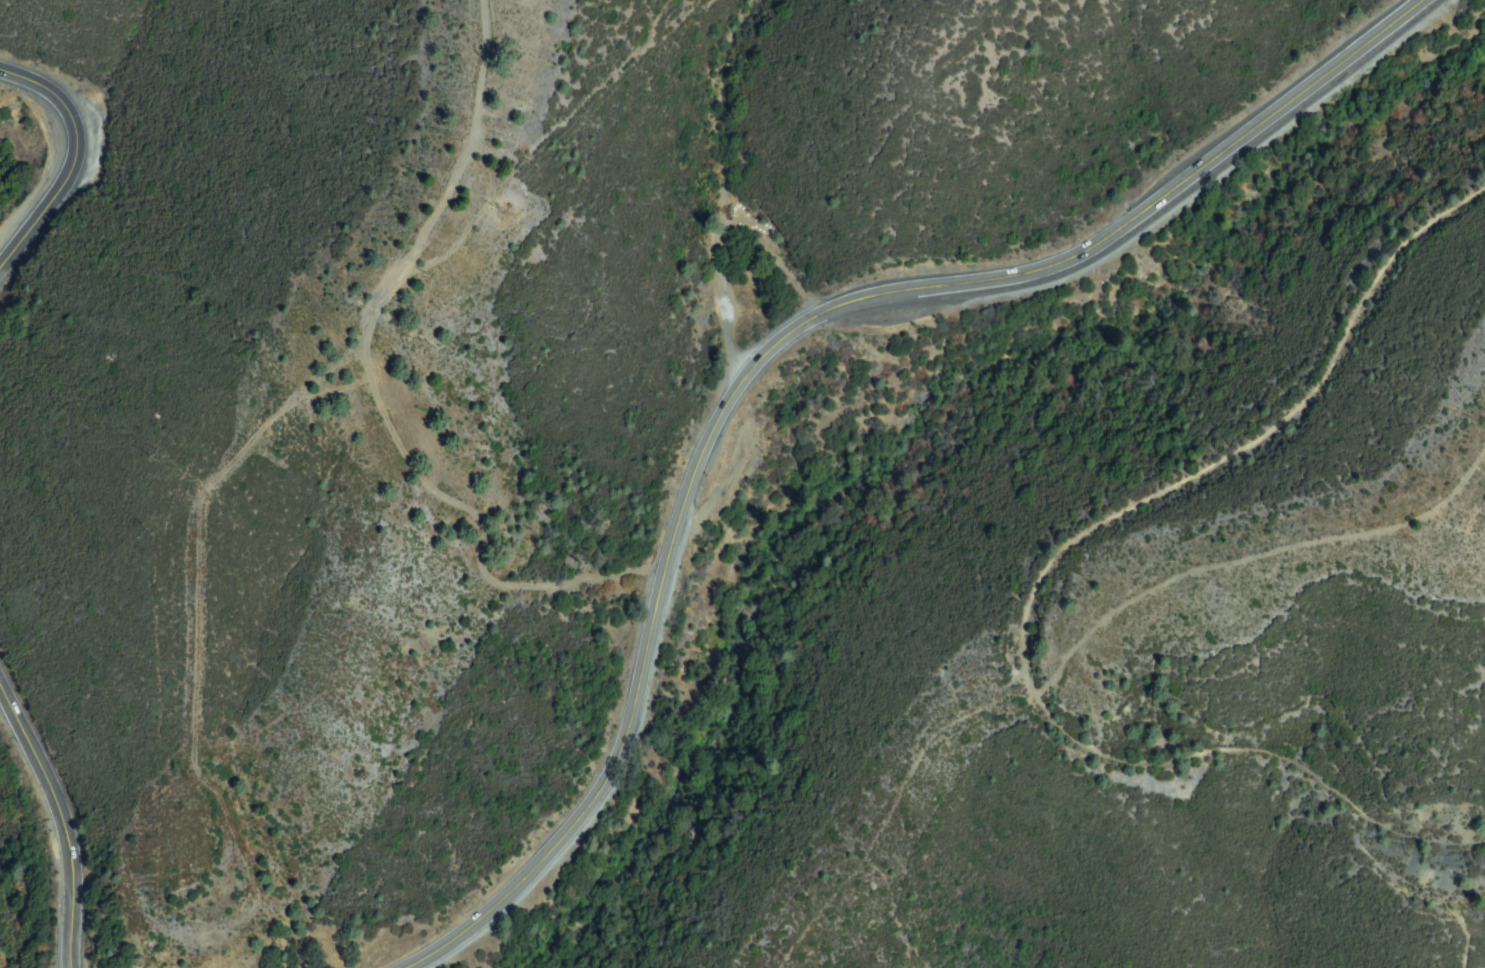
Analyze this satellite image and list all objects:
road: (74, 161)
road: (769, 337)
road: (1039, 578)
road: (61, 826)

